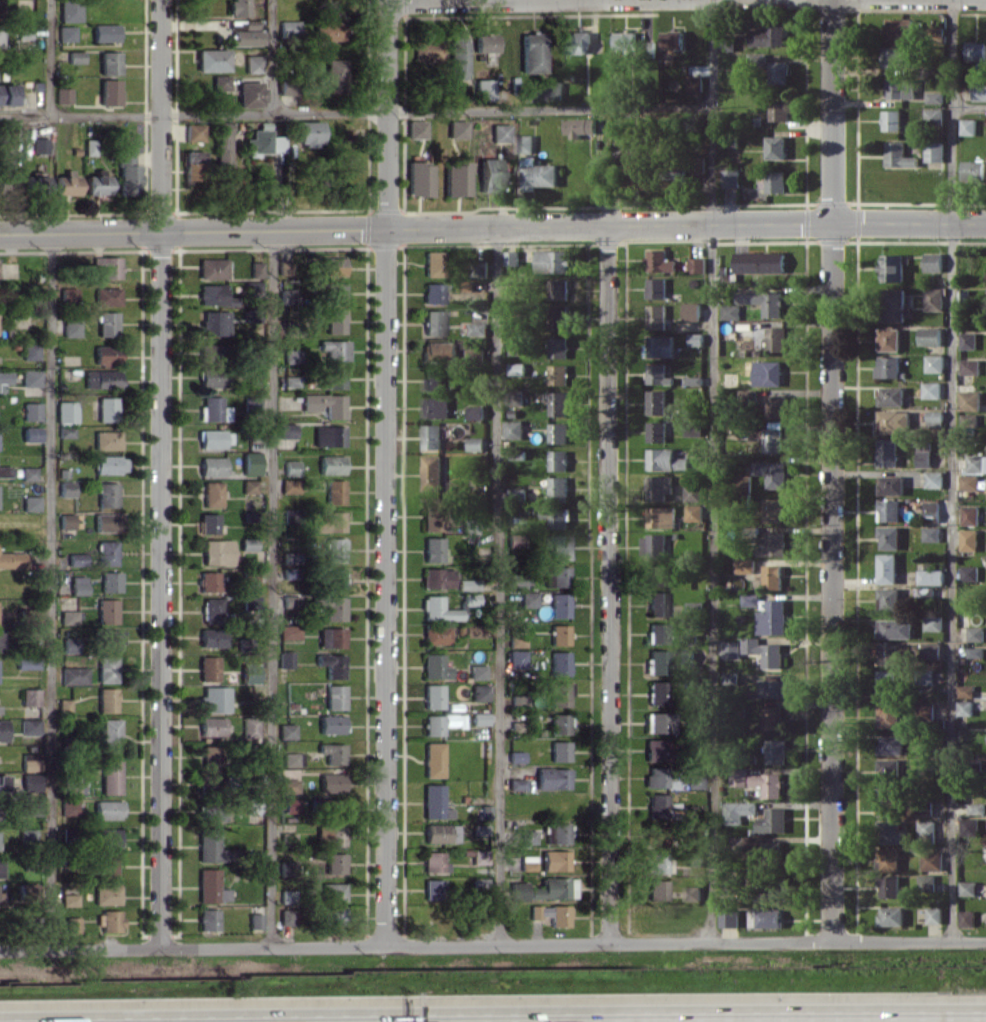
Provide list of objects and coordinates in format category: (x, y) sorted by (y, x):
building: (237, 8)
building: (69, 10)
building: (287, 28)
building: (899, 28)
building: (329, 30)
building: (104, 32)
building: (65, 33)
building: (245, 34)
building: (770, 35)
building: (0, 38)
building: (674, 39)
building: (626, 41)
building: (484, 42)
building: (579, 42)
building: (976, 50)
building: (425, 51)
building: (531, 52)
building: (74, 56)
road: (270, 56)
road: (48, 57)
building: (893, 57)
building: (457, 58)
building: (211, 59)
building: (108, 62)
building: (251, 63)
building: (780, 72)
building: (332, 76)
building: (219, 82)
building: (695, 84)
building: (285, 85)
building: (900, 88)
building: (482, 89)
building: (554, 90)
building: (108, 91)
building: (979, 91)
building: (6, 94)
building: (249, 94)
building: (62, 95)
building: (935, 97)
road: (970, 106)
building: (780, 109)
road: (356, 110)
road: (385, 114)
road: (158, 115)
building: (935, 116)
building: (892, 120)
building: (580, 126)
building: (968, 126)
building: (415, 128)
building: (456, 128)
building: (193, 132)
building: (308, 132)
building: (499, 132)
building: (262, 142)
building: (524, 143)
building: (222, 144)
building: (39, 145)
building: (88, 146)
building: (776, 147)
building: (934, 151)
building: (899, 155)
building: (192, 165)
building: (974, 170)
building: (6, 173)
building: (127, 174)
building: (538, 174)
building: (638, 174)
building: (488, 175)
building: (731, 177)
building: (417, 178)
building: (455, 178)
building: (676, 178)
building: (774, 181)
building: (96, 182)
building: (65, 183)
building: (35, 184)
road: (571, 224)
road: (79, 232)
building: (512, 257)
building: (552, 261)
building: (660, 261)
building: (934, 261)
building: (760, 262)
building: (432, 263)
building: (698, 265)
building: (331, 266)
building: (107, 267)
building: (894, 267)
building: (211, 268)
building: (481, 268)
building: (255, 269)
building: (656, 288)
building: (558, 289)
building: (334, 292)
building: (431, 292)
building: (213, 295)
building: (106, 296)
building: (286, 296)
building: (935, 298)
building: (764, 301)
building: (894, 304)
building: (692, 311)
building: (731, 311)
building: (657, 316)
building: (558, 317)
building: (334, 320)
building: (214, 322)
building: (432, 322)
building: (106, 323)
building: (70, 328)
building: (478, 328)
building: (931, 336)
building: (777, 338)
building: (696, 339)
building: (890, 339)
building: (969, 340)
building: (660, 346)
building: (559, 347)
building: (334, 349)
building: (30, 351)
building: (439, 351)
building: (210, 353)
building: (106, 354)
building: (290, 355)
building: (935, 363)
building: (889, 366)
building: (970, 366)
building: (517, 368)
building: (768, 373)
building: (559, 374)
building: (659, 374)
building: (211, 377)
building: (330, 377)
building: (30, 378)
building: (100, 378)
building: (4, 379)
building: (432, 380)
building: (289, 381)
building: (934, 390)
building: (892, 396)
building: (971, 400)
building: (657, 401)
building: (558, 403)
building: (324, 404)
building: (776, 406)
building: (435, 407)
building: (106, 408)
building: (213, 409)
building: (31, 411)
building: (65, 411)
building: (476, 412)
building: (936, 418)
building: (894, 421)
building: (971, 421)
building: (514, 429)
building: (693, 429)
building: (286, 430)
building: (64, 431)
building: (657, 431)
building: (559, 432)
building: (29, 434)
building: (328, 435)
building: (432, 436)
building: (774, 437)
building: (214, 438)
building: (106, 439)
building: (476, 443)
building: (888, 452)
building: (924, 455)
building: (665, 459)
building: (559, 460)
building: (250, 463)
building: (976, 463)
building: (109, 464)
building: (330, 464)
building: (211, 465)
building: (290, 467)
road: (832, 470)
road: (954, 470)
building: (4, 471)
road: (713, 471)
building: (432, 472)
building: (27, 473)
building: (772, 473)
building: (934, 479)
building: (969, 482)
building: (745, 483)
building: (289, 485)
building: (892, 485)
building: (248, 486)
building: (659, 486)
building: (558, 487)
building: (65, 489)
building: (334, 491)
building: (211, 493)
building: (693, 493)
building: (106, 494)
building: (30, 503)
building: (772, 509)
building: (932, 509)
building: (890, 510)
building: (695, 512)
building: (432, 513)
building: (970, 515)
building: (556, 517)
building: (662, 517)
building: (65, 520)
building: (328, 521)
building: (107, 522)
building: (207, 523)
building: (931, 533)
building: (890, 537)
building: (514, 540)
building: (969, 540)
building: (247, 544)
building: (774, 544)
building: (653, 545)
building: (558, 547)
building: (334, 549)
building: (432, 549)
building: (106, 552)
building: (216, 552)
building: (11, 559)
building: (76, 559)
building: (745, 565)
building: (888, 568)
building: (970, 573)
building: (656, 575)
building: (556, 576)
building: (931, 576)
building: (774, 577)
building: (436, 578)
building: (332, 579)
building: (110, 581)
building: (208, 581)
building: (515, 581)
building: (466, 584)
road: (609, 584)
building: (77, 585)
road: (496, 585)
road: (382, 586)
road: (269, 588)
road: (159, 589)
road: (49, 591)
building: (890, 598)
building: (469, 599)
building: (527, 599)
building: (751, 599)
building: (290, 600)
building: (657, 603)
building: (558, 604)
building: (249, 605)
building: (332, 607)
building: (212, 609)
building: (437, 609)
building: (106, 610)
building: (68, 616)
building: (773, 618)
building: (934, 623)
building: (895, 628)
building: (472, 630)
building: (288, 631)
building: (657, 633)
building: (976, 633)
building: (435, 634)
building: (558, 634)
building: (211, 637)
building: (331, 637)
building: (111, 639)
building: (0, 640)
building: (515, 641)
building: (70, 645)
building: (732, 649)
building: (931, 650)
building: (764, 651)
building: (976, 652)
building: (889, 653)
building: (516, 658)
building: (284, 659)
building: (657, 662)
building: (559, 663)
building: (331, 664)
building: (434, 666)
building: (207, 668)
building: (106, 669)
building: (476, 671)
building: (249, 673)
building: (73, 675)
building: (731, 677)
building: (888, 684)
building: (773, 685)
building: (966, 690)
building: (478, 692)
building: (656, 692)
building: (559, 693)
building: (334, 696)
building: (432, 696)
building: (29, 697)
building: (106, 699)
building: (63, 704)
building: (965, 707)
building: (926, 712)
building: (890, 715)
building: (773, 717)
building: (478, 718)
building: (440, 722)
building: (657, 722)
building: (558, 723)
building: (29, 726)
building: (211, 726)
building: (249, 726)
building: (3, 730)
building: (285, 730)
building: (109, 735)
building: (892, 744)
building: (655, 749)
building: (558, 751)
building: (776, 751)
building: (331, 752)
building: (210, 755)
building: (515, 756)
building: (291, 759)
building: (432, 759)
building: (29, 761)
building: (890, 769)
building: (109, 776)
building: (740, 776)
building: (655, 777)
building: (552, 778)
building: (30, 781)
building: (693, 781)
building: (330, 782)
building: (515, 783)
building: (769, 783)
building: (2, 784)
building: (74, 785)
building: (288, 785)
building: (888, 800)
building: (433, 802)
building: (289, 805)
building: (656, 806)
building: (335, 807)
building: (68, 808)
building: (925, 808)
building: (977, 808)
building: (107, 809)
building: (211, 810)
building: (739, 811)
building: (773, 820)
building: (970, 826)
building: (927, 829)
building: (439, 832)
building: (556, 832)
building: (894, 832)
building: (331, 834)
building: (26, 836)
building: (107, 836)
building: (527, 836)
building: (654, 837)
building: (208, 845)
building: (774, 849)
building: (478, 856)
building: (890, 858)
building: (554, 860)
building: (932, 860)
building: (334, 862)
building: (433, 862)
building: (526, 862)
building: (656, 862)
building: (107, 865)
building: (0, 866)
building: (927, 882)
building: (210, 886)
building: (890, 886)
building: (432, 888)
building: (544, 888)
building: (968, 888)
building: (656, 889)
building: (775, 890)
building: (330, 891)
building: (693, 892)
building: (106, 894)
building: (1, 898)
building: (68, 899)
building: (330, 914)
building: (551, 914)
building: (892, 915)
building: (934, 915)
building: (730, 917)
building: (769, 918)
building: (967, 918)
building: (207, 919)
building: (254, 920)
building: (109, 921)
building: (71, 924)
road: (492, 945)

